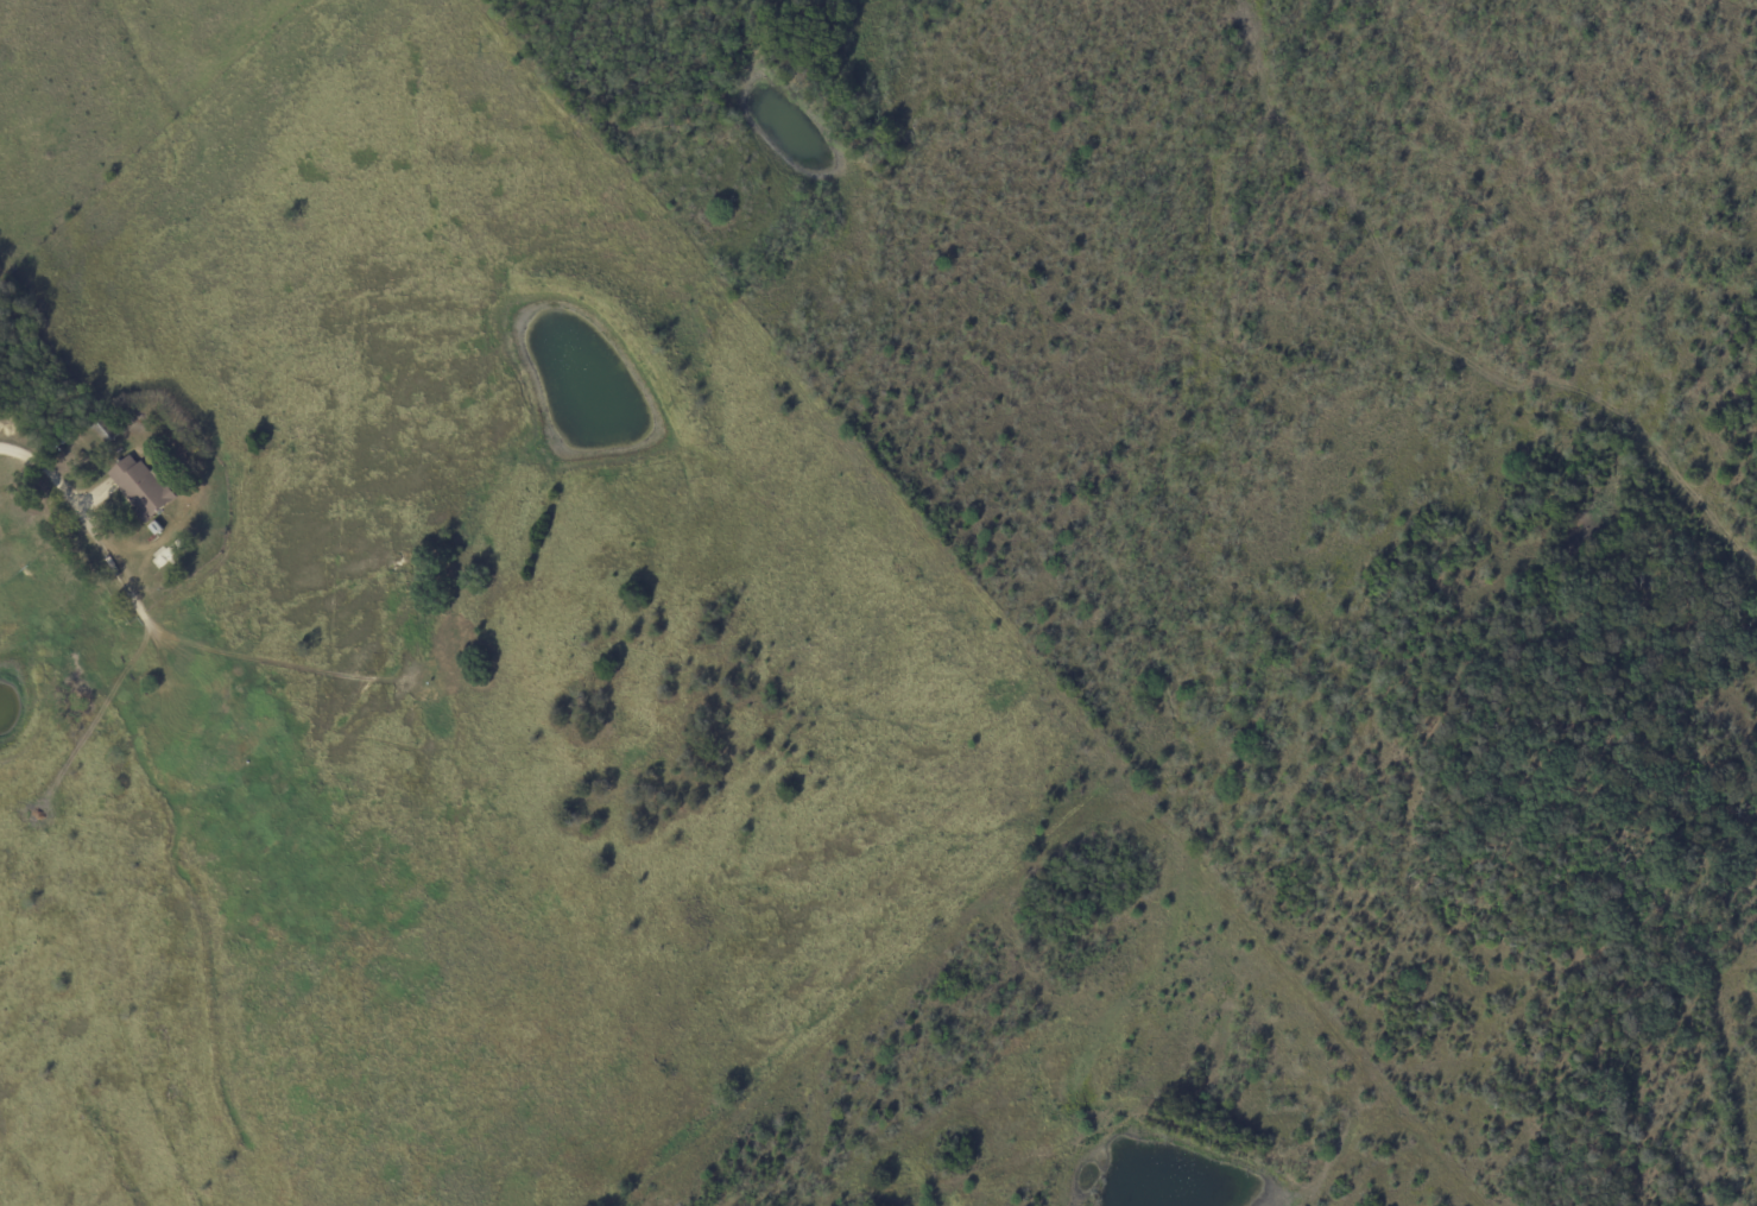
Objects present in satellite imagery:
building: (135, 486)
road: (81, 504)

